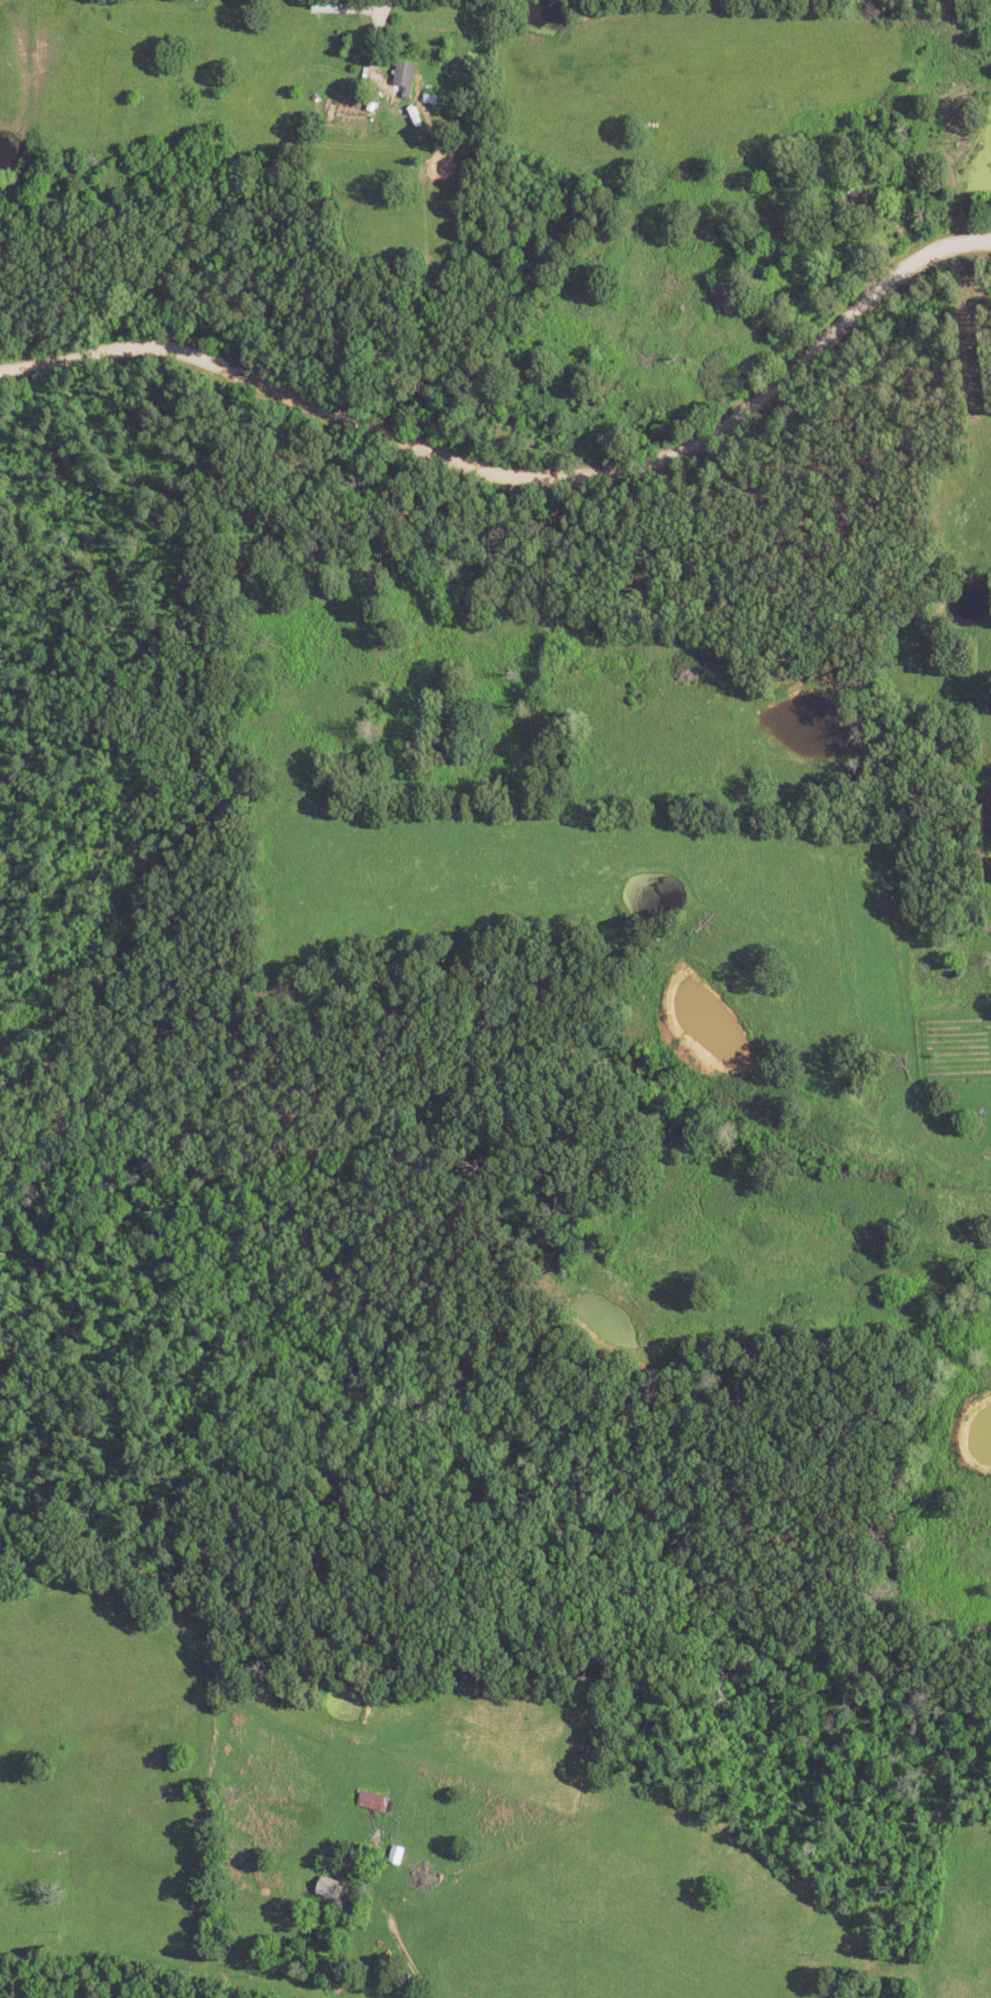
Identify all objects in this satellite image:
building: (407, 76)
road: (875, 229)
building: (727, 302)
road: (771, 303)
road: (522, 478)
road: (908, 1018)
road: (403, 1959)

